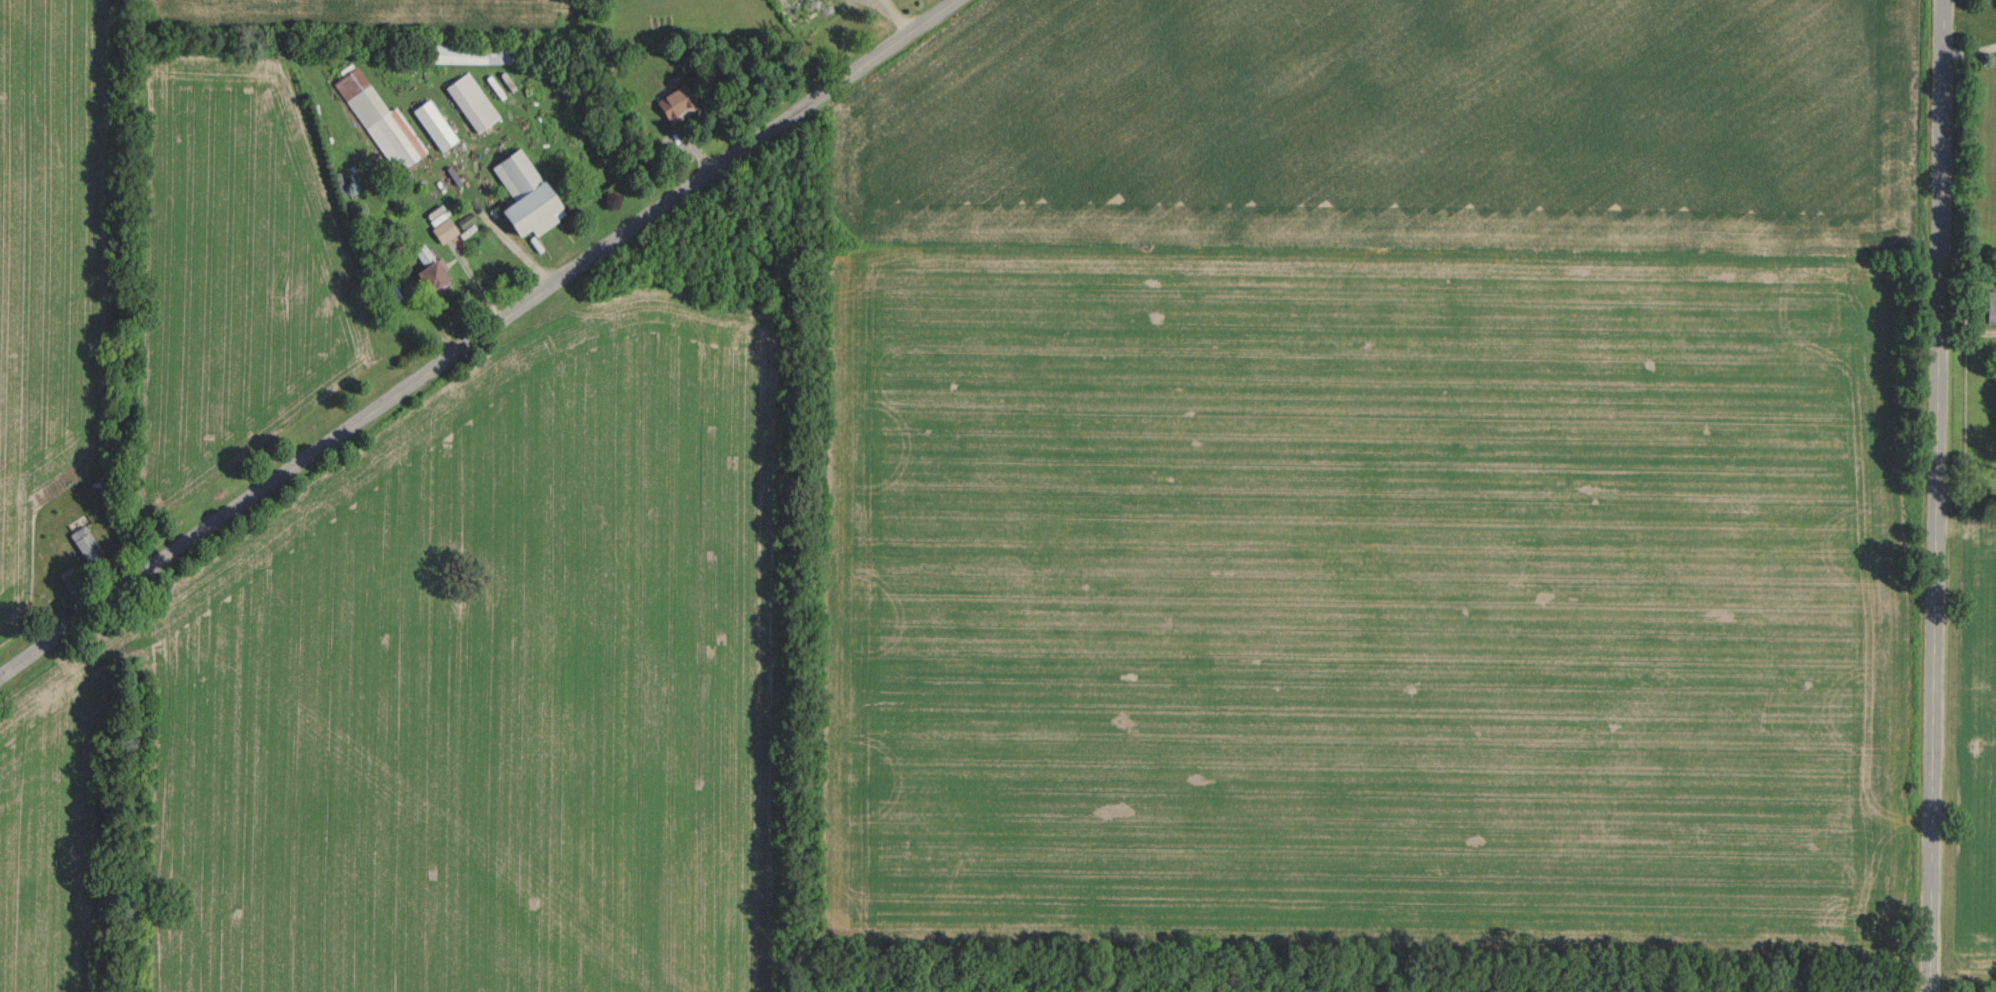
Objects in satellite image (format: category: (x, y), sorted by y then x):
road: (1969, 50)
building: (474, 53)
building: (470, 100)
building: (675, 102)
building: (378, 119)
building: (523, 194)
building: (442, 230)
building: (427, 267)
road: (480, 286)
building: (390, 291)
building: (1990, 305)
road: (479, 340)
road: (1936, 496)
building: (84, 542)

